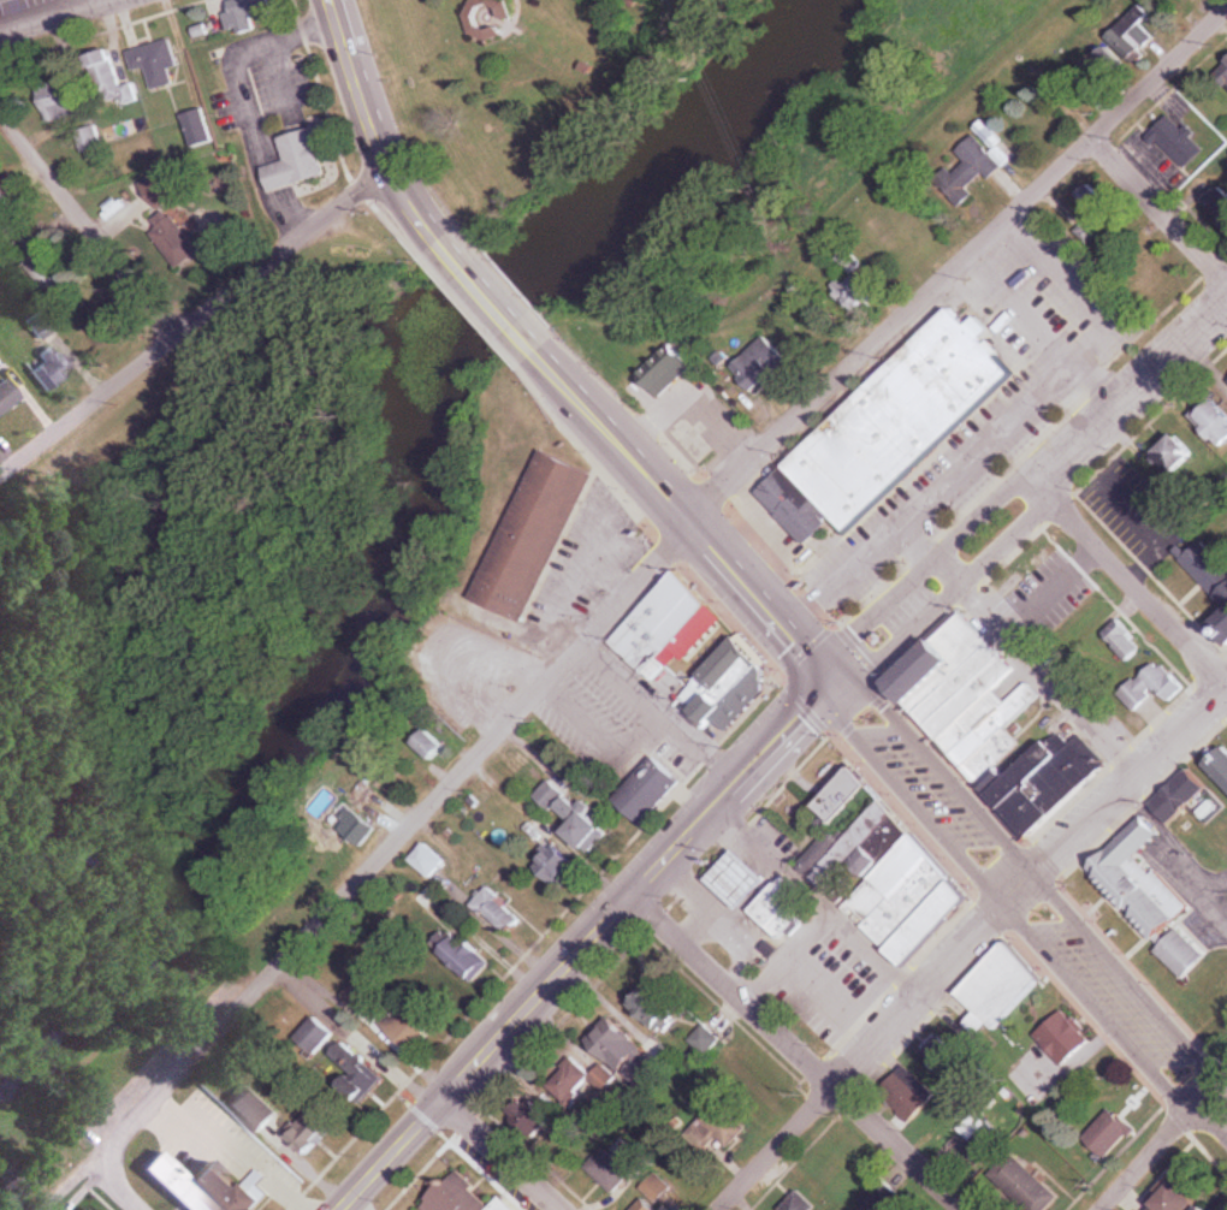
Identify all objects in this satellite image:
building: (244, 14)
road: (58, 18)
building: (1137, 32)
building: (155, 63)
building: (1223, 72)
building: (111, 78)
road: (238, 95)
building: (58, 100)
road: (375, 126)
building: (198, 127)
building: (89, 140)
building: (1179, 142)
building: (982, 159)
building: (303, 161)
building: (161, 191)
building: (1219, 203)
road: (1158, 209)
road: (87, 226)
road: (959, 266)
road: (488, 295)
road: (195, 319)
building: (42, 324)
building: (760, 364)
building: (51, 369)
building: (669, 370)
building: (7, 396)
building: (1215, 421)
building: (891, 431)
building: (1178, 455)
road: (1030, 493)
river: (379, 510)
road: (683, 514)
building: (535, 536)
building: (1209, 568)
road: (1133, 586)
building: (665, 624)
building: (1222, 625)
building: (1124, 640)
traffic signals: (832, 683)
building: (731, 686)
building: (1156, 686)
building: (967, 696)
building: (517, 764)
building: (1219, 766)
building: (1049, 782)
building: (648, 791)
road: (1124, 791)
building: (551, 795)
building: (1181, 797)
building: (585, 825)
building: (358, 828)
building: (431, 861)
building: (558, 865)
road: (372, 866)
building: (885, 873)
building: (742, 879)
building: (1150, 896)
building: (428, 898)
road: (1029, 902)
building: (781, 908)
building: (499, 912)
road: (580, 942)
building: (464, 957)
building: (1000, 989)
building: (366, 990)
building: (1222, 1006)
building: (659, 1009)
building: (413, 1030)
building: (318, 1037)
building: (1063, 1038)
building: (706, 1040)
building: (952, 1048)
road: (866, 1049)
road: (792, 1051)
building: (624, 1052)
building: (358, 1074)
building: (582, 1081)
road: (1215, 1085)
building: (907, 1093)
building: (962, 1097)
building: (256, 1109)
building: (535, 1119)
building: (723, 1126)
building: (980, 1129)
building: (310, 1133)
building: (1109, 1134)
road: (498, 1153)
road: (1151, 1153)
building: (609, 1170)
building: (204, 1187)
building: (1026, 1187)
road: (118, 1190)
building: (654, 1193)
building: (878, 1194)
building: (461, 1198)
building: (1182, 1200)
building: (798, 1203)
building: (1210, 1209)

